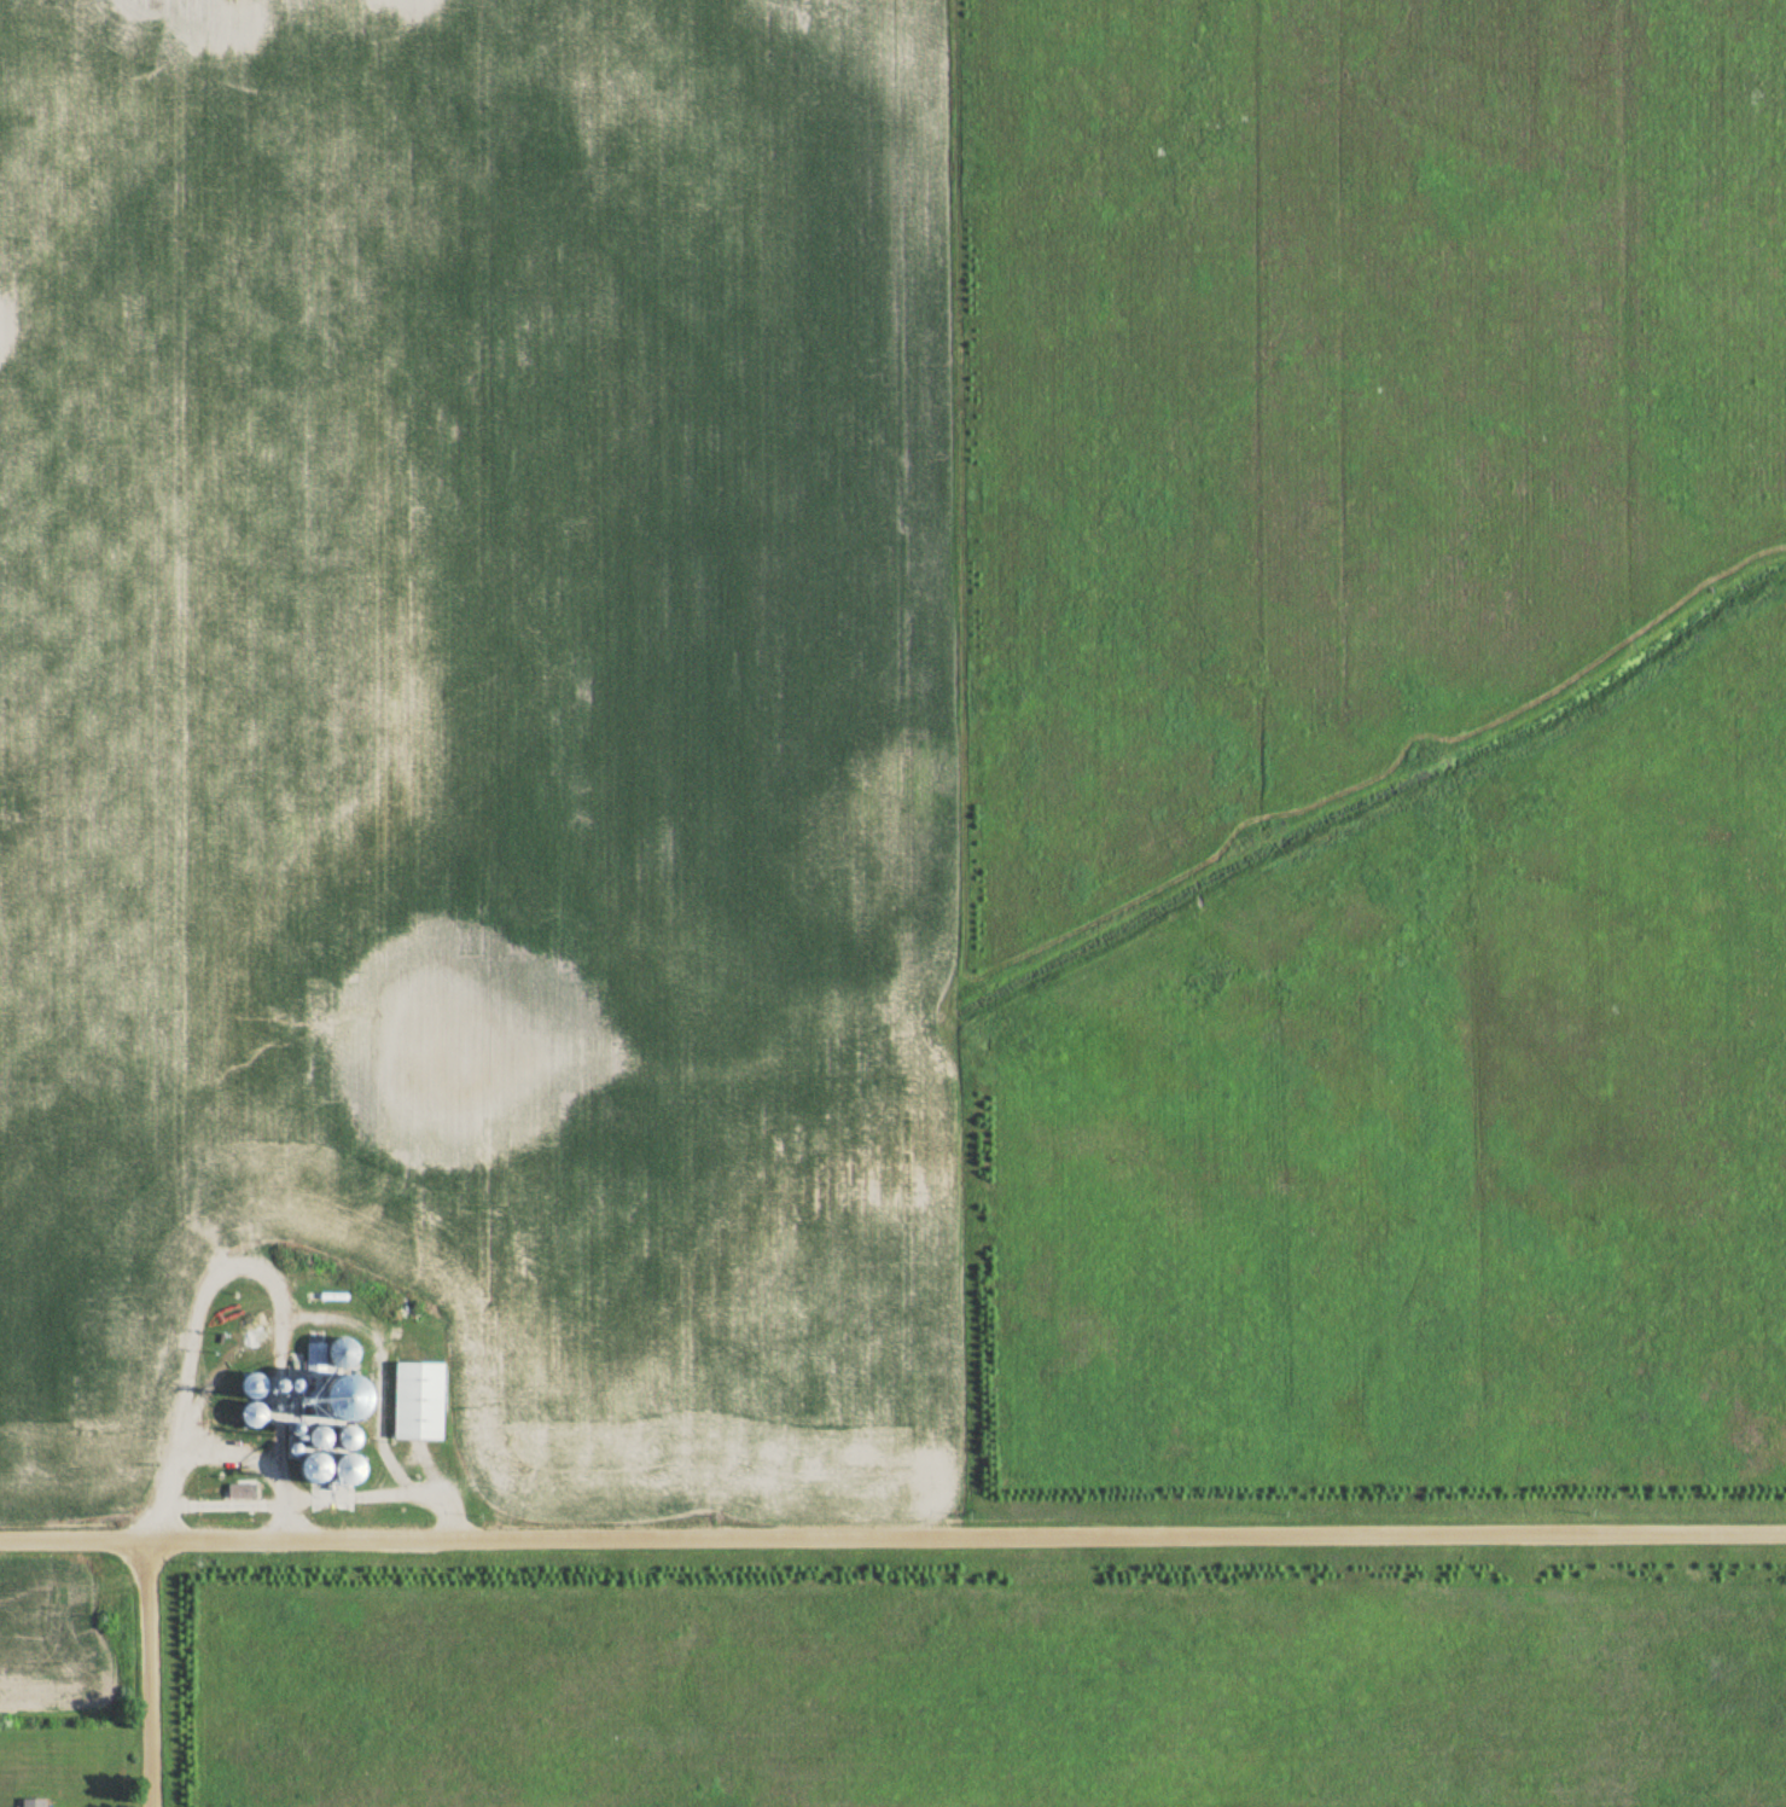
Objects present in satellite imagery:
road: (200, 1282)
building: (333, 1353)
building: (246, 1387)
building: (315, 1388)
building: (414, 1401)
building: (245, 1417)
building: (347, 1471)
building: (239, 1492)
road: (892, 1536)
road: (135, 1671)
building: (29, 1803)

